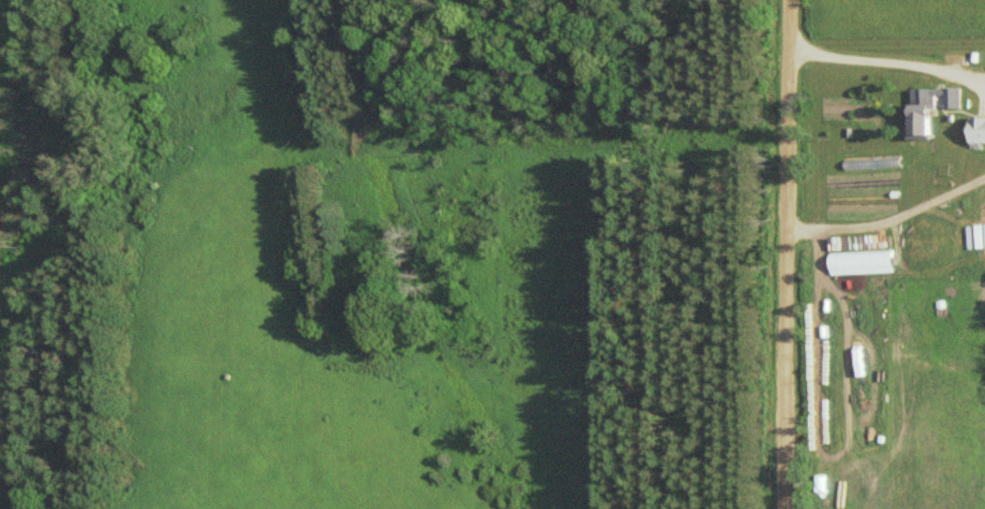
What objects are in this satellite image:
building: (933, 108)
building: (979, 133)
building: (863, 206)
road: (787, 254)
building: (864, 260)

